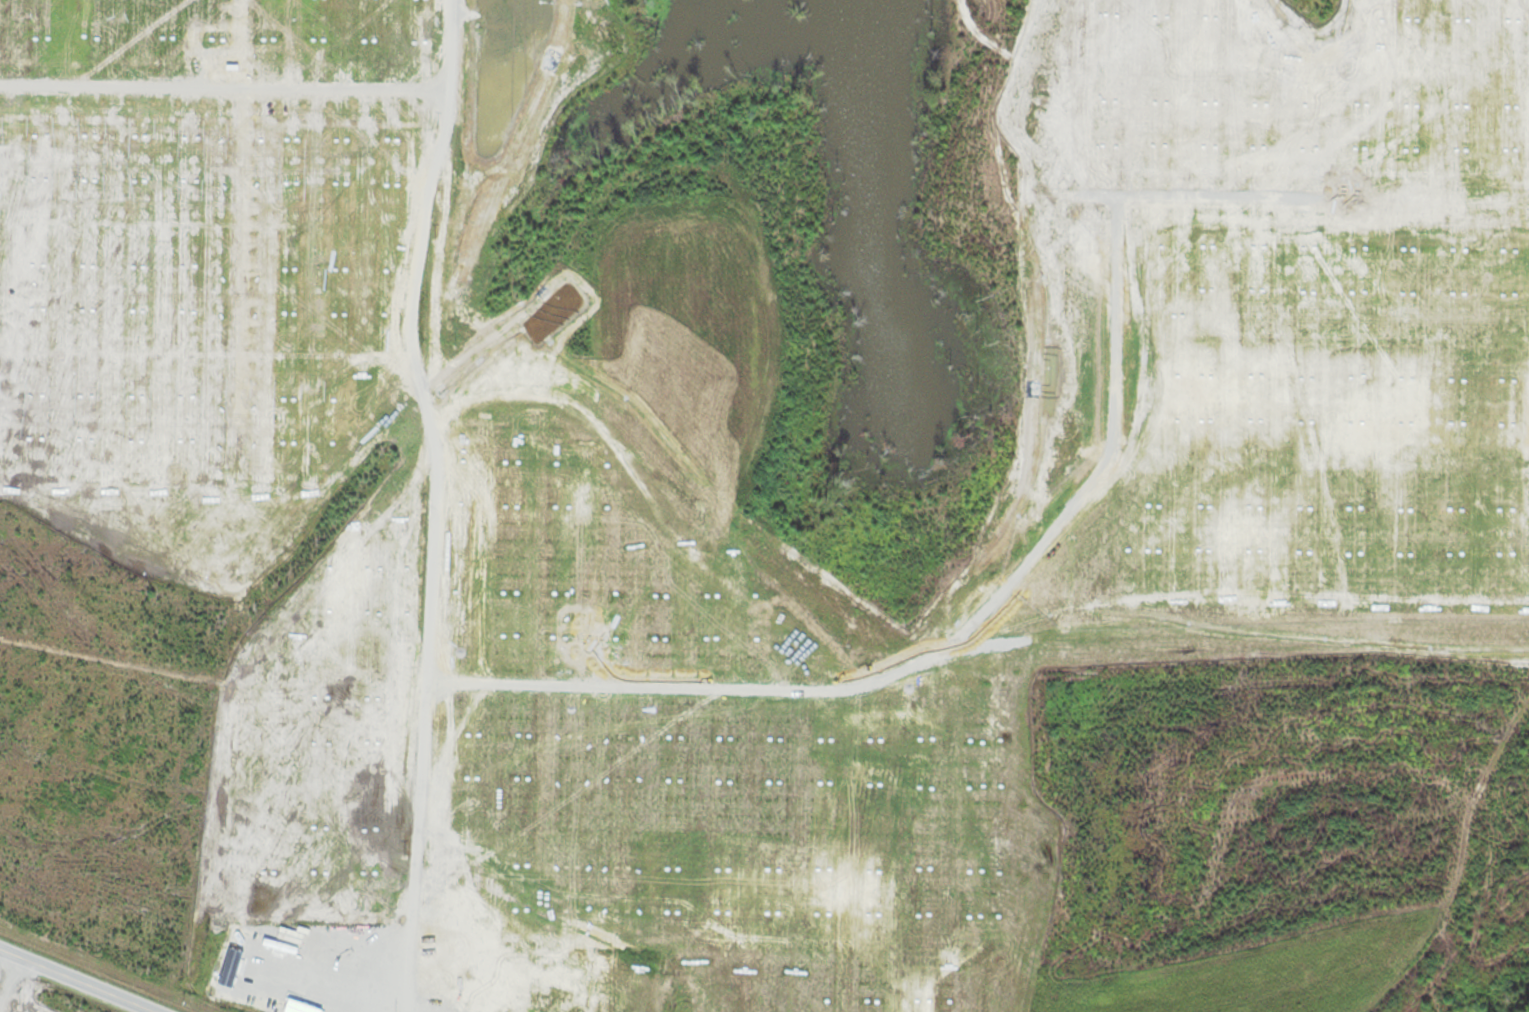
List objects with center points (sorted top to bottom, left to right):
solar farm: (1277, 316)
road: (432, 506)
solar farm: (447, 569)
road: (77, 980)
solar farm: (20, 1004)

